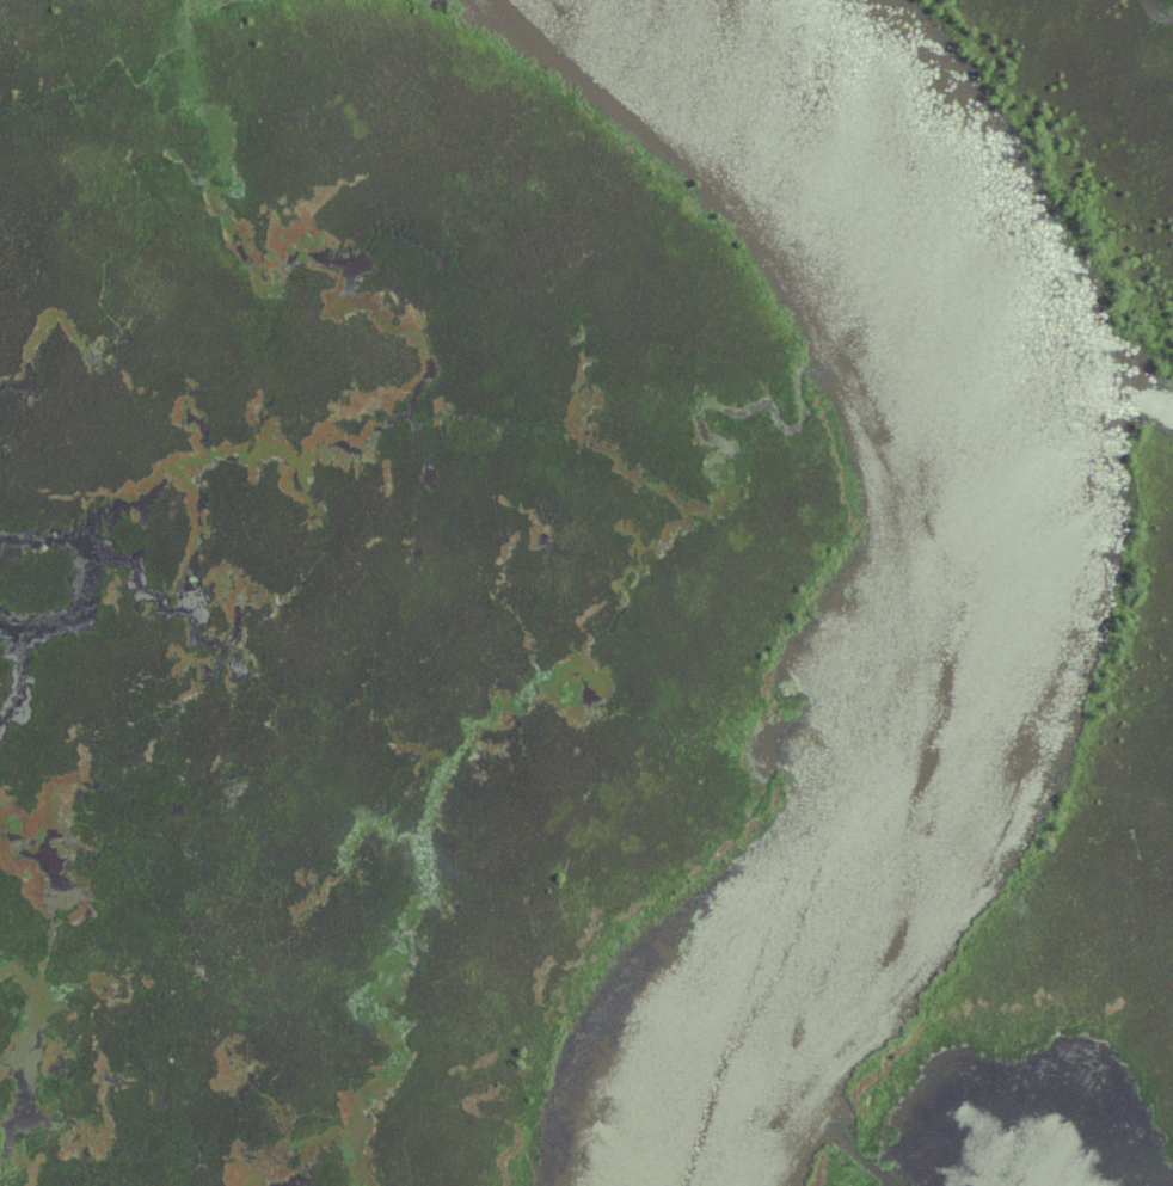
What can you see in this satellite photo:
river: (977, 576)
river: (90, 579)

